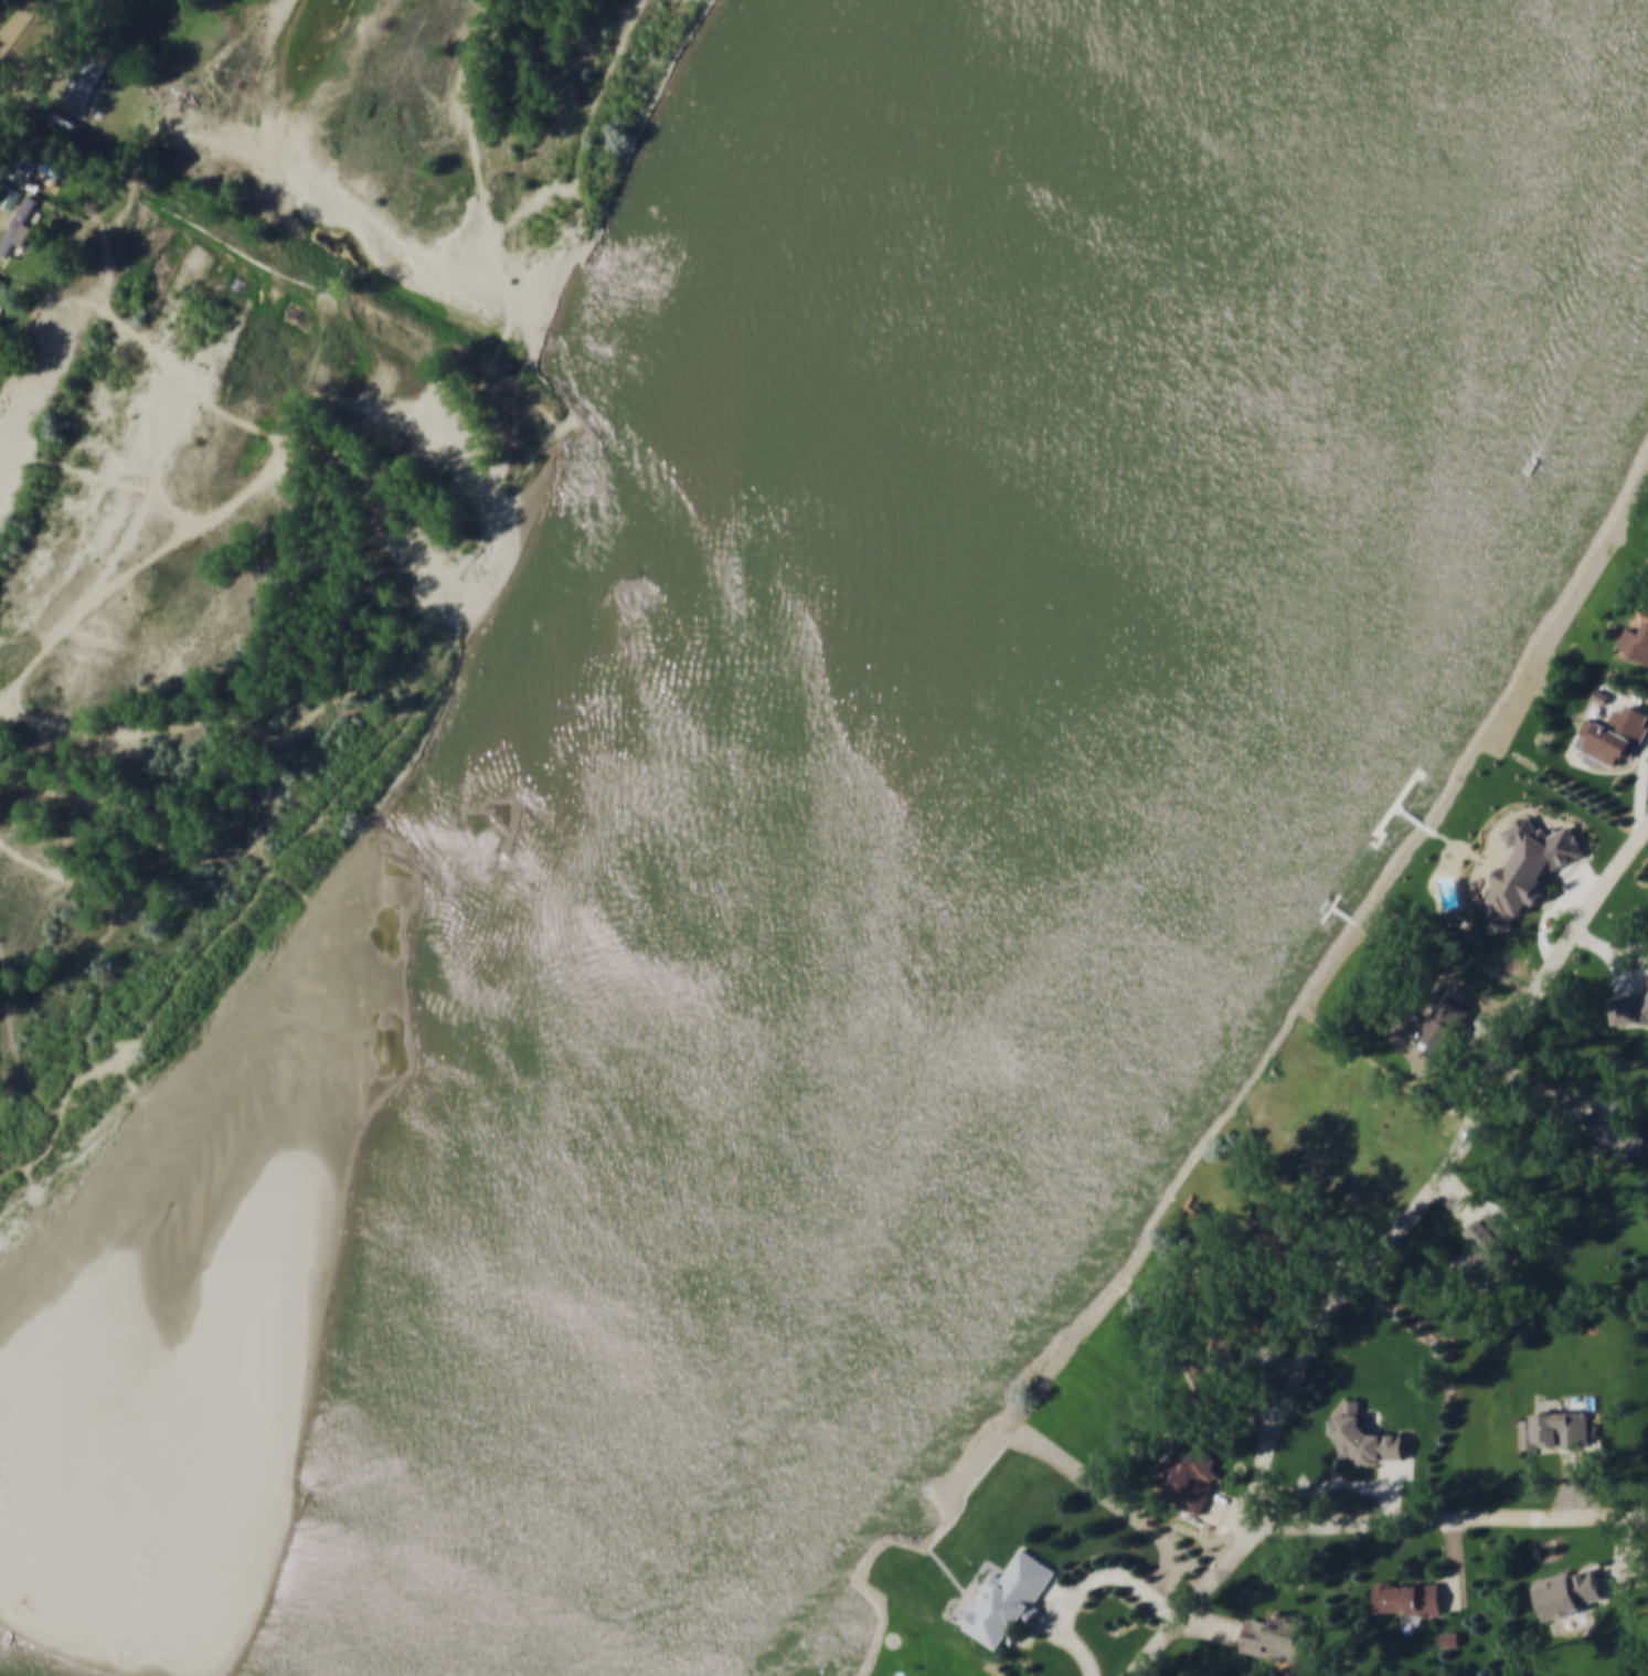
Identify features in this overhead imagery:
building: (84, 78)
building: (19, 225)
building: (1, 280)
building: (1637, 645)
building: (1605, 699)
building: (1619, 739)
road: (1644, 798)
building: (1538, 858)
river: (1115, 861)
road: (1584, 879)
road: (1550, 917)
road: (1642, 953)
road: (1612, 954)
building: (1630, 1006)
building: (1440, 1020)
road: (1487, 1029)
building: (1380, 1078)
road: (1546, 1091)
building: (1622, 1122)
road: (1443, 1178)
road: (1460, 1199)
building: (1287, 1220)
building: (1488, 1245)
road: (1336, 1256)
building: (1238, 1338)
road: (1275, 1355)
building: (1213, 1371)
road: (1255, 1399)
building: (1559, 1428)
building: (1369, 1432)
building: (1194, 1474)
road: (1578, 1479)
road: (1335, 1483)
road: (1392, 1487)
road: (1115, 1497)
road: (1231, 1505)
road: (1353, 1523)
road: (1625, 1556)
road: (1455, 1562)
road: (1088, 1582)
building: (1574, 1590)
road: (1061, 1593)
building: (1016, 1597)
building: (1415, 1597)
road: (1216, 1624)
building: (1280, 1636)
building: (1454, 1636)

